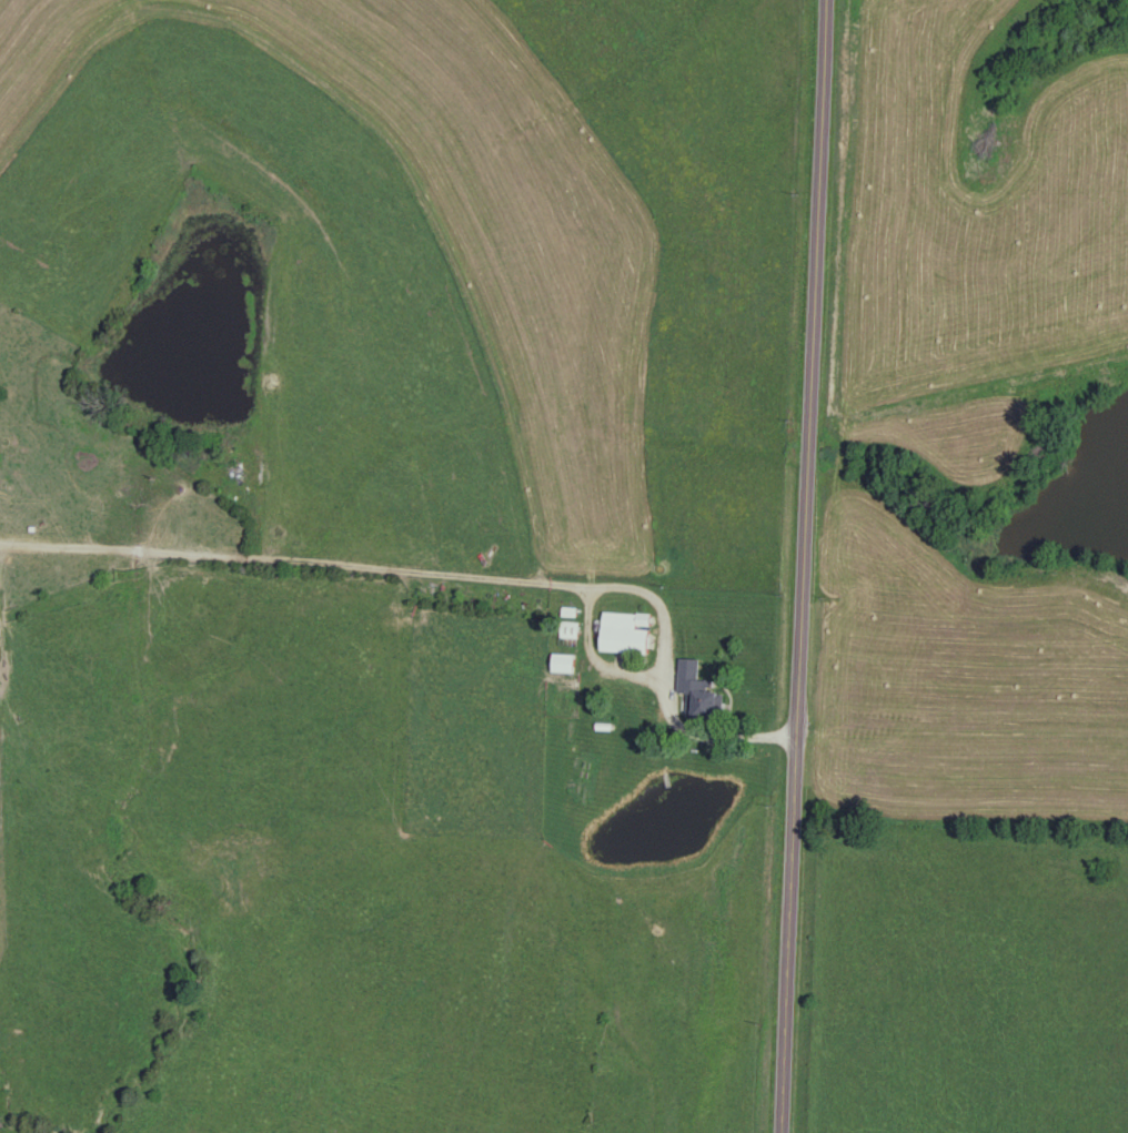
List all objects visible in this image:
road: (813, 566)
road: (452, 578)
building: (625, 634)
building: (697, 696)

